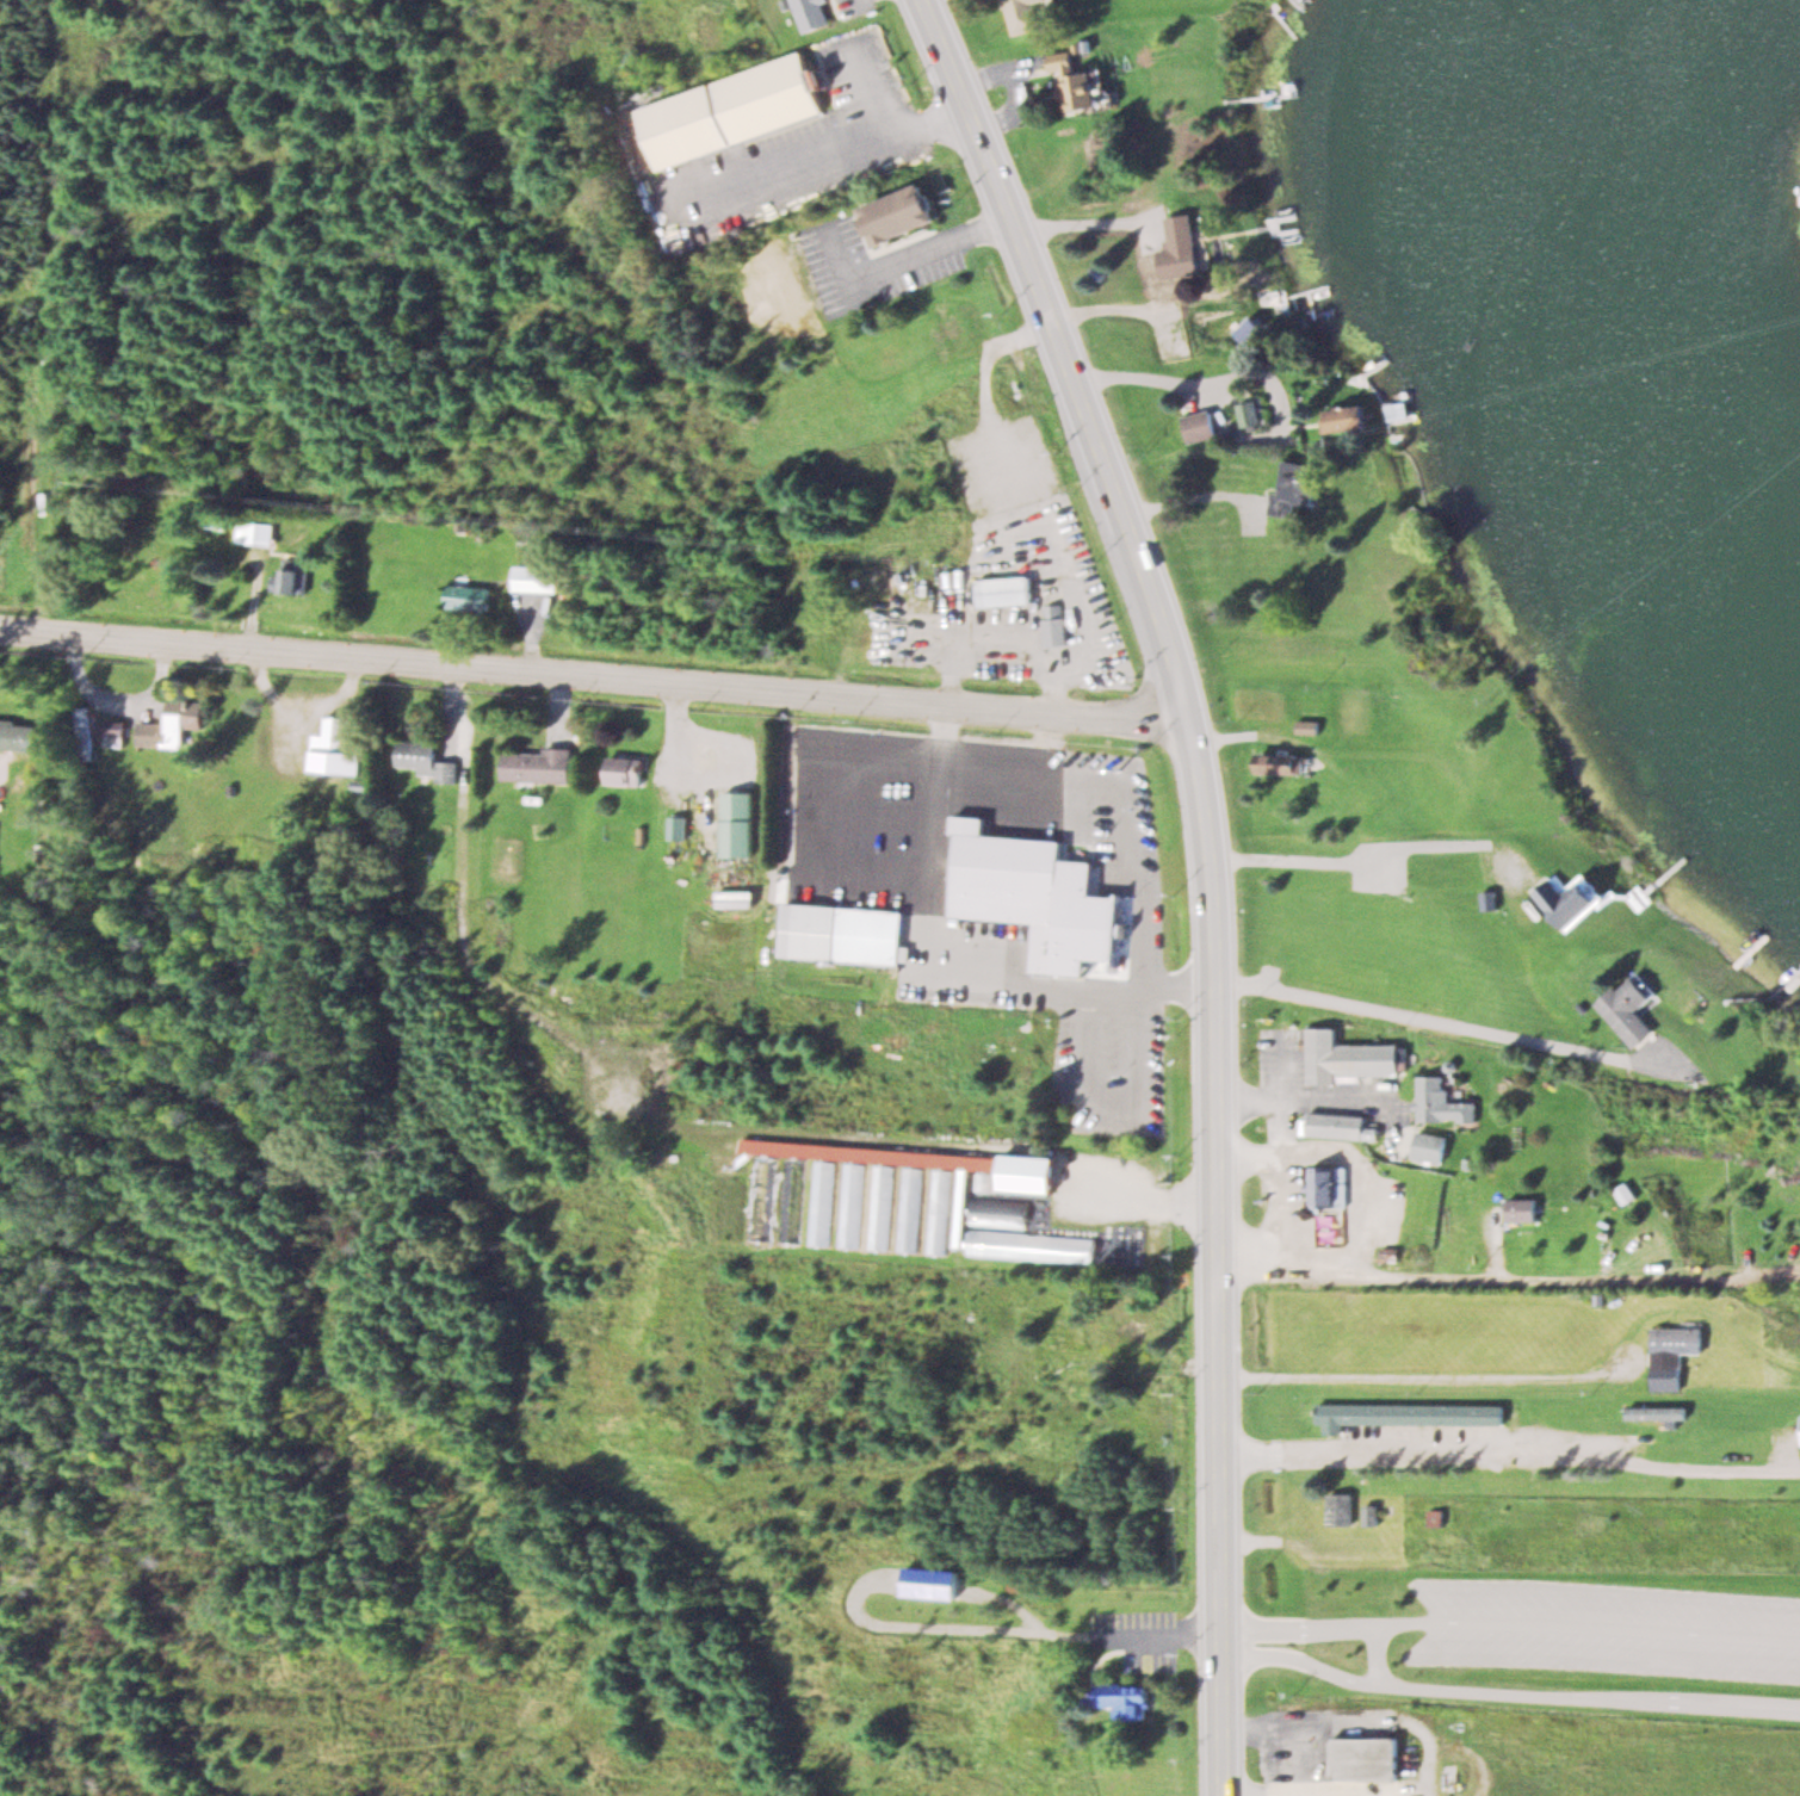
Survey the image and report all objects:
building: (809, 13)
building: (1022, 14)
building: (1074, 79)
building: (732, 109)
building: (902, 212)
building: (1181, 247)
river: (1660, 261)
building: (940, 329)
building: (1248, 413)
building: (1348, 416)
building: (1194, 425)
building: (1292, 488)
building: (253, 532)
building: (292, 576)
building: (537, 577)
building: (1002, 592)
building: (465, 596)
building: (1053, 625)
road: (593, 675)
building: (169, 725)
building: (1306, 726)
building: (112, 731)
building: (18, 735)
building: (333, 748)
building: (425, 758)
building: (1281, 763)
building: (536, 764)
building: (625, 769)
building: (737, 823)
building: (675, 828)
road: (1205, 872)
building: (1020, 881)
building: (1486, 900)
building: (1569, 900)
building: (845, 934)
building: (1090, 962)
building: (1629, 1010)
road: (1422, 1018)
building: (1349, 1057)
building: (1125, 1091)
building: (1439, 1100)
building: (1336, 1125)
building: (1429, 1146)
building: (1029, 1172)
building: (1325, 1187)
building: (1625, 1193)
building: (760, 1197)
building: (790, 1200)
building: (818, 1202)
building: (848, 1204)
building: (878, 1207)
building: (907, 1209)
building: (1521, 1209)
building: (936, 1210)
building: (960, 1210)
road: (1505, 1276)
building: (1672, 1354)
road: (1422, 1376)
building: (1654, 1412)
building: (1406, 1414)
building: (1338, 1510)
building: (1368, 1515)
building: (1435, 1517)
road: (1509, 1623)
road: (1375, 1654)
road: (1507, 1693)
building: (1124, 1698)
building: (1365, 1757)

